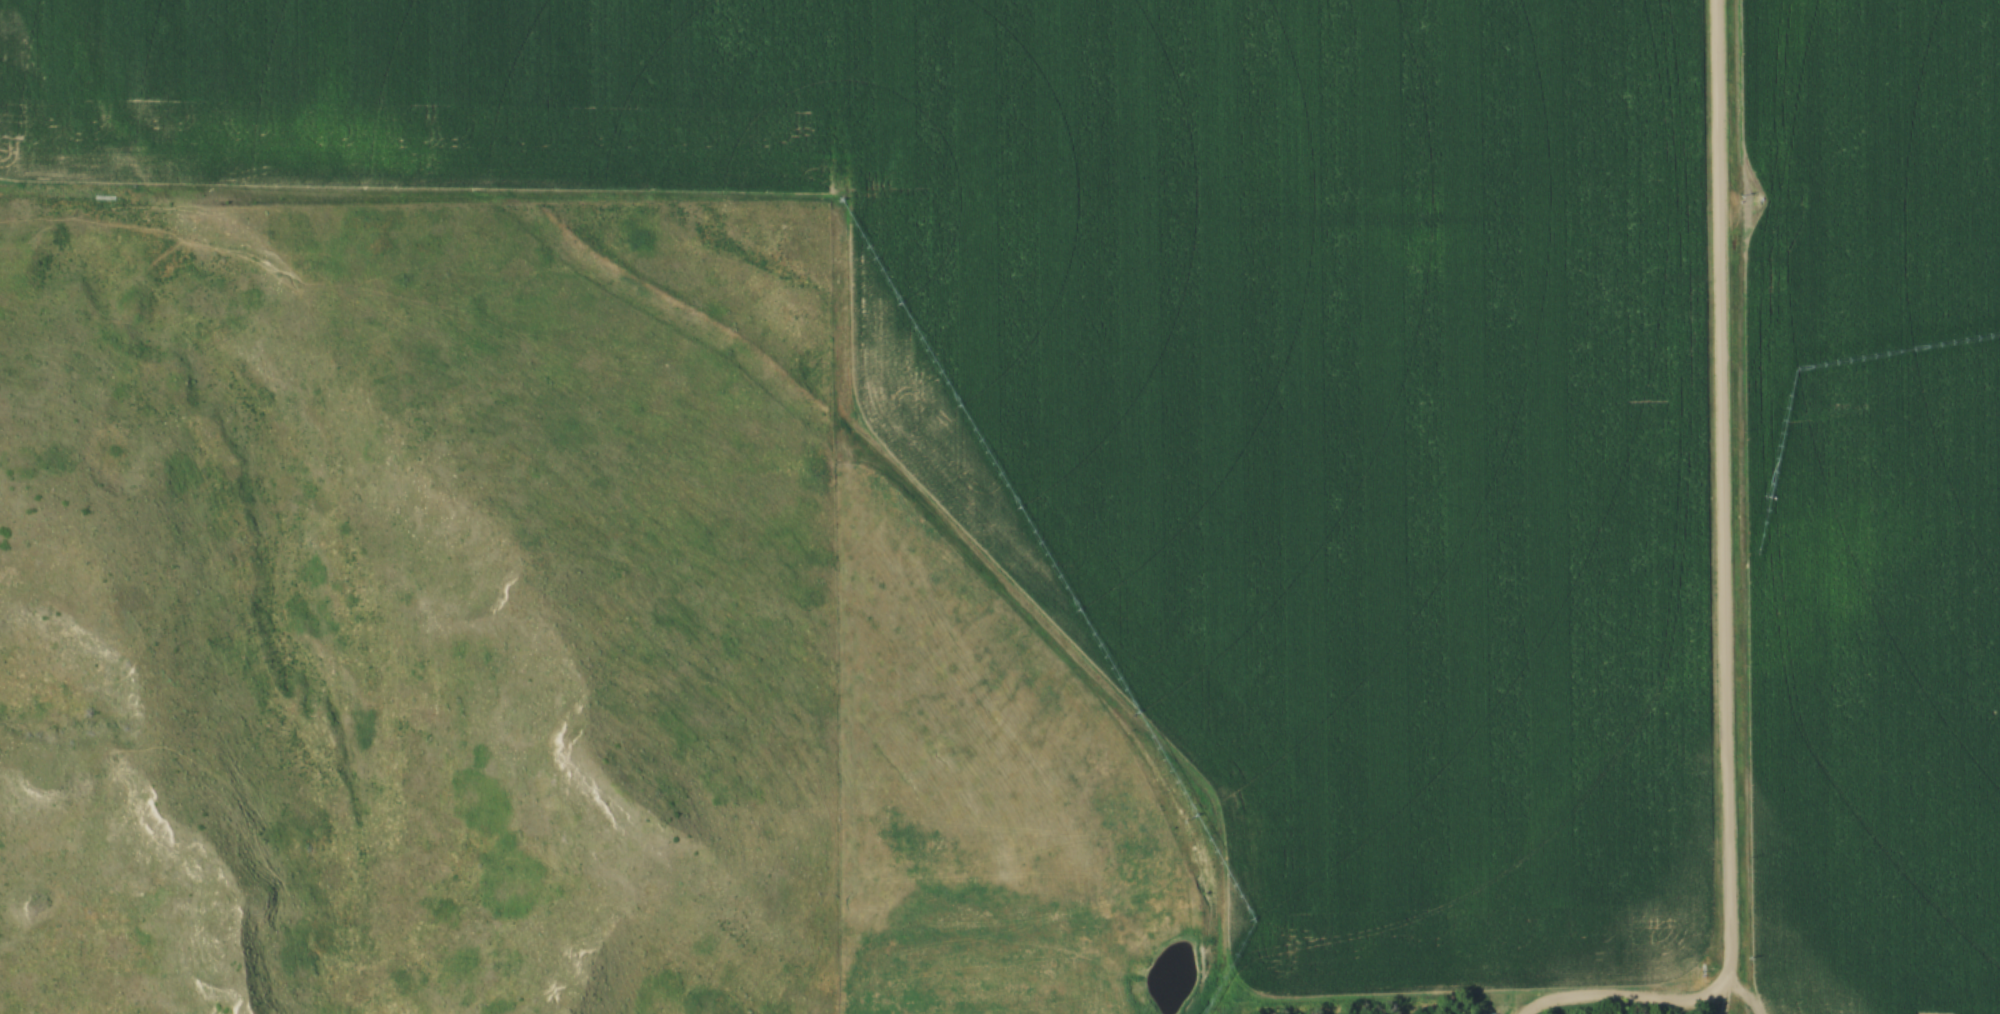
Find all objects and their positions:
crop: (1169, 370)
road: (1718, 487)
crop: (1873, 503)
road: (1156, 935)
road: (1626, 997)

